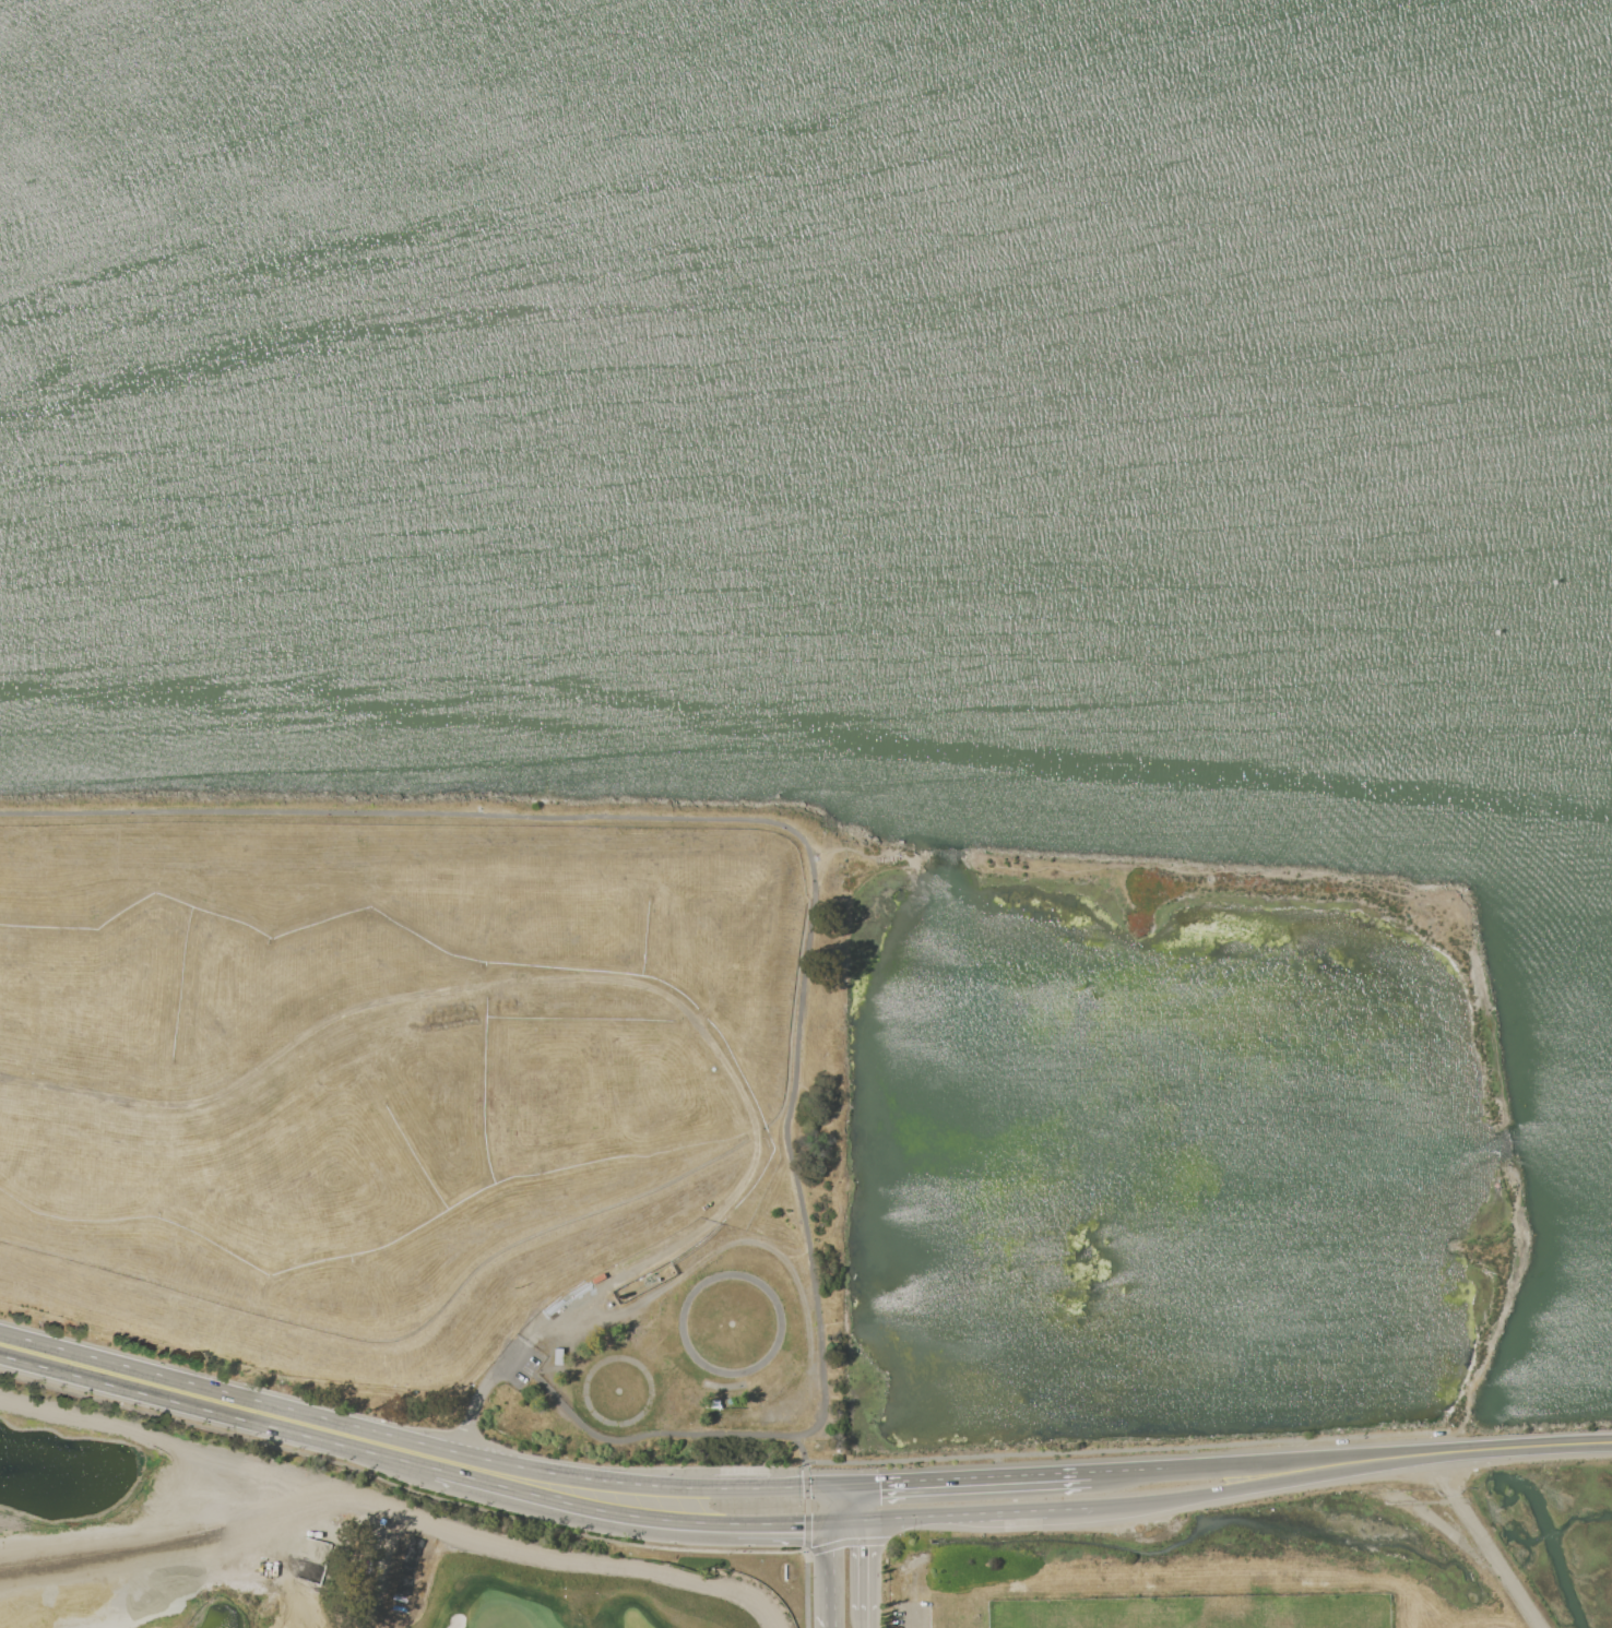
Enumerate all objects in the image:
road: (711, 817)
landfill: (404, 1065)
road: (619, 1280)
park: (696, 1351)
parking lot: (515, 1366)
road: (484, 1391)
road: (217, 1412)
road: (640, 1436)
road: (422, 1440)
road: (1521, 1446)
road: (1301, 1461)
road: (815, 1467)
road: (1130, 1470)
road: (1444, 1473)
road: (972, 1478)
road: (1264, 1485)
road: (866, 1500)
road: (842, 1501)
road: (585, 1506)
road: (1069, 1509)
road: (998, 1512)
road: (912, 1517)
road: (854, 1520)
road: (787, 1522)
airport: (1449, 1542)
park: (293, 1547)
road: (1500, 1560)
road: (872, 1565)
road: (804, 1567)
road: (837, 1574)
road: (246, 1585)
parking lot: (908, 1615)
road: (872, 1619)
road: (297, 1620)
road: (909, 1620)
park: (1276, 1626)
park: (1140, 1627)

